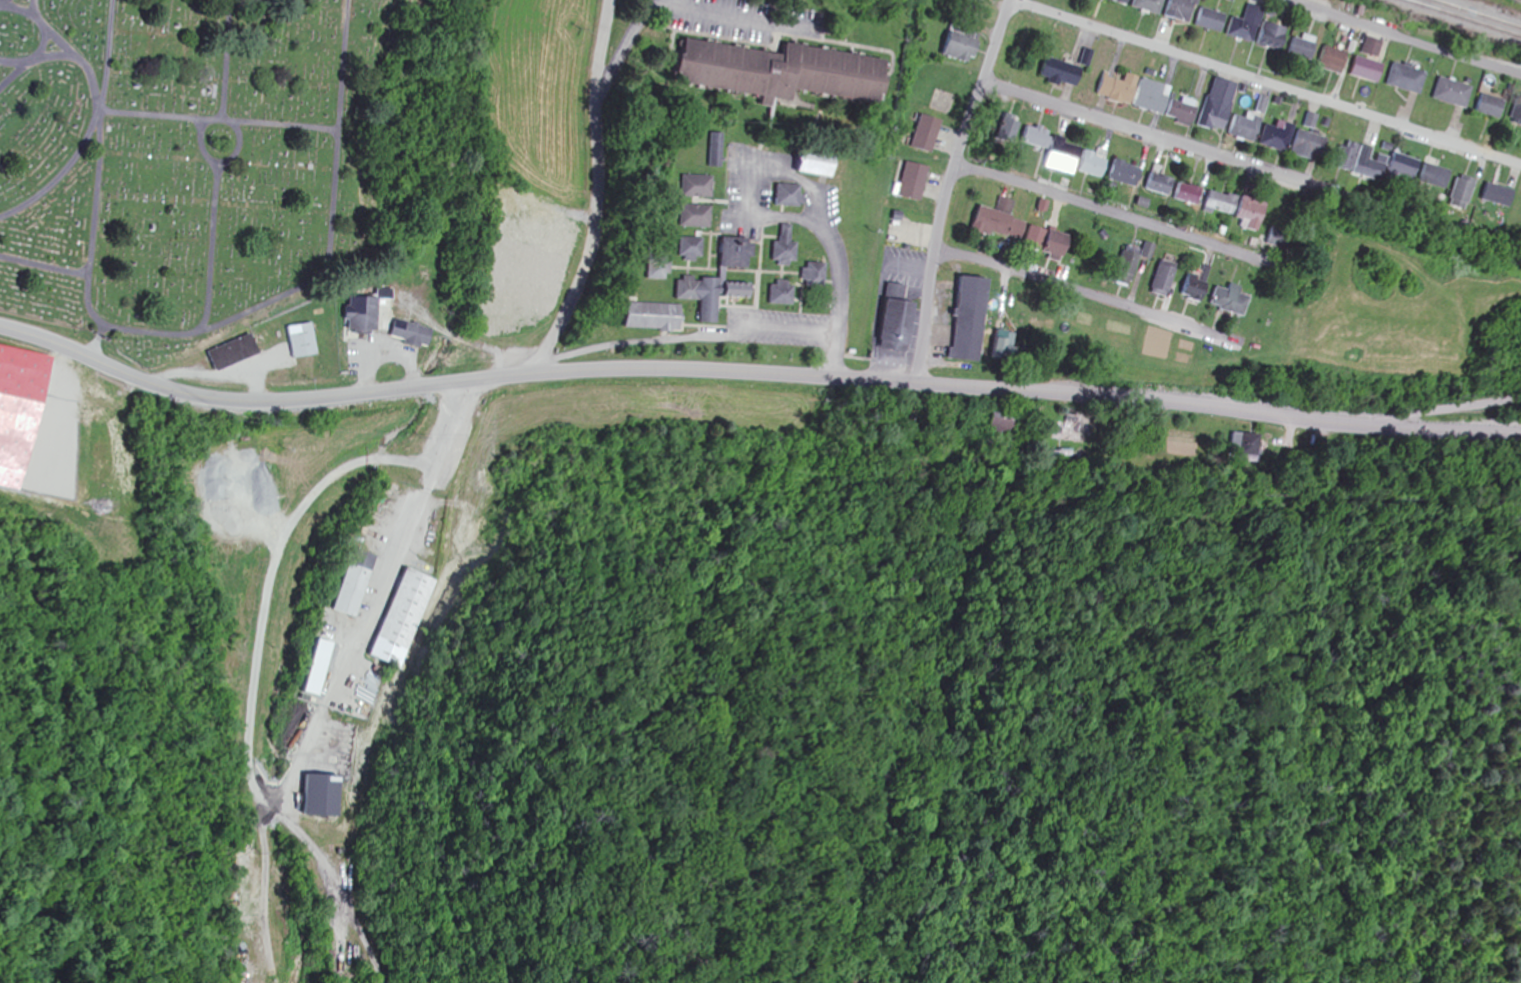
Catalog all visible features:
road: (1, 1)
road: (674, 11)
road: (36, 13)
railway: (1474, 14)
railway: (1459, 19)
road: (42, 37)
road: (1401, 38)
road: (53, 55)
road: (15, 73)
road: (1265, 83)
road: (212, 117)
road: (273, 125)
road: (88, 131)
road: (1172, 143)
park: (207, 160)
road: (218, 161)
road: (951, 188)
road: (595, 192)
road: (747, 200)
road: (1100, 212)
road: (208, 246)
road: (44, 262)
road: (1088, 294)
road: (839, 301)
road: (187, 332)
road: (558, 373)
road: (1051, 392)
road: (262, 401)
building: (19, 411)
road: (1437, 412)
road: (292, 536)
building: (361, 583)
building: (419, 618)
building: (333, 794)

